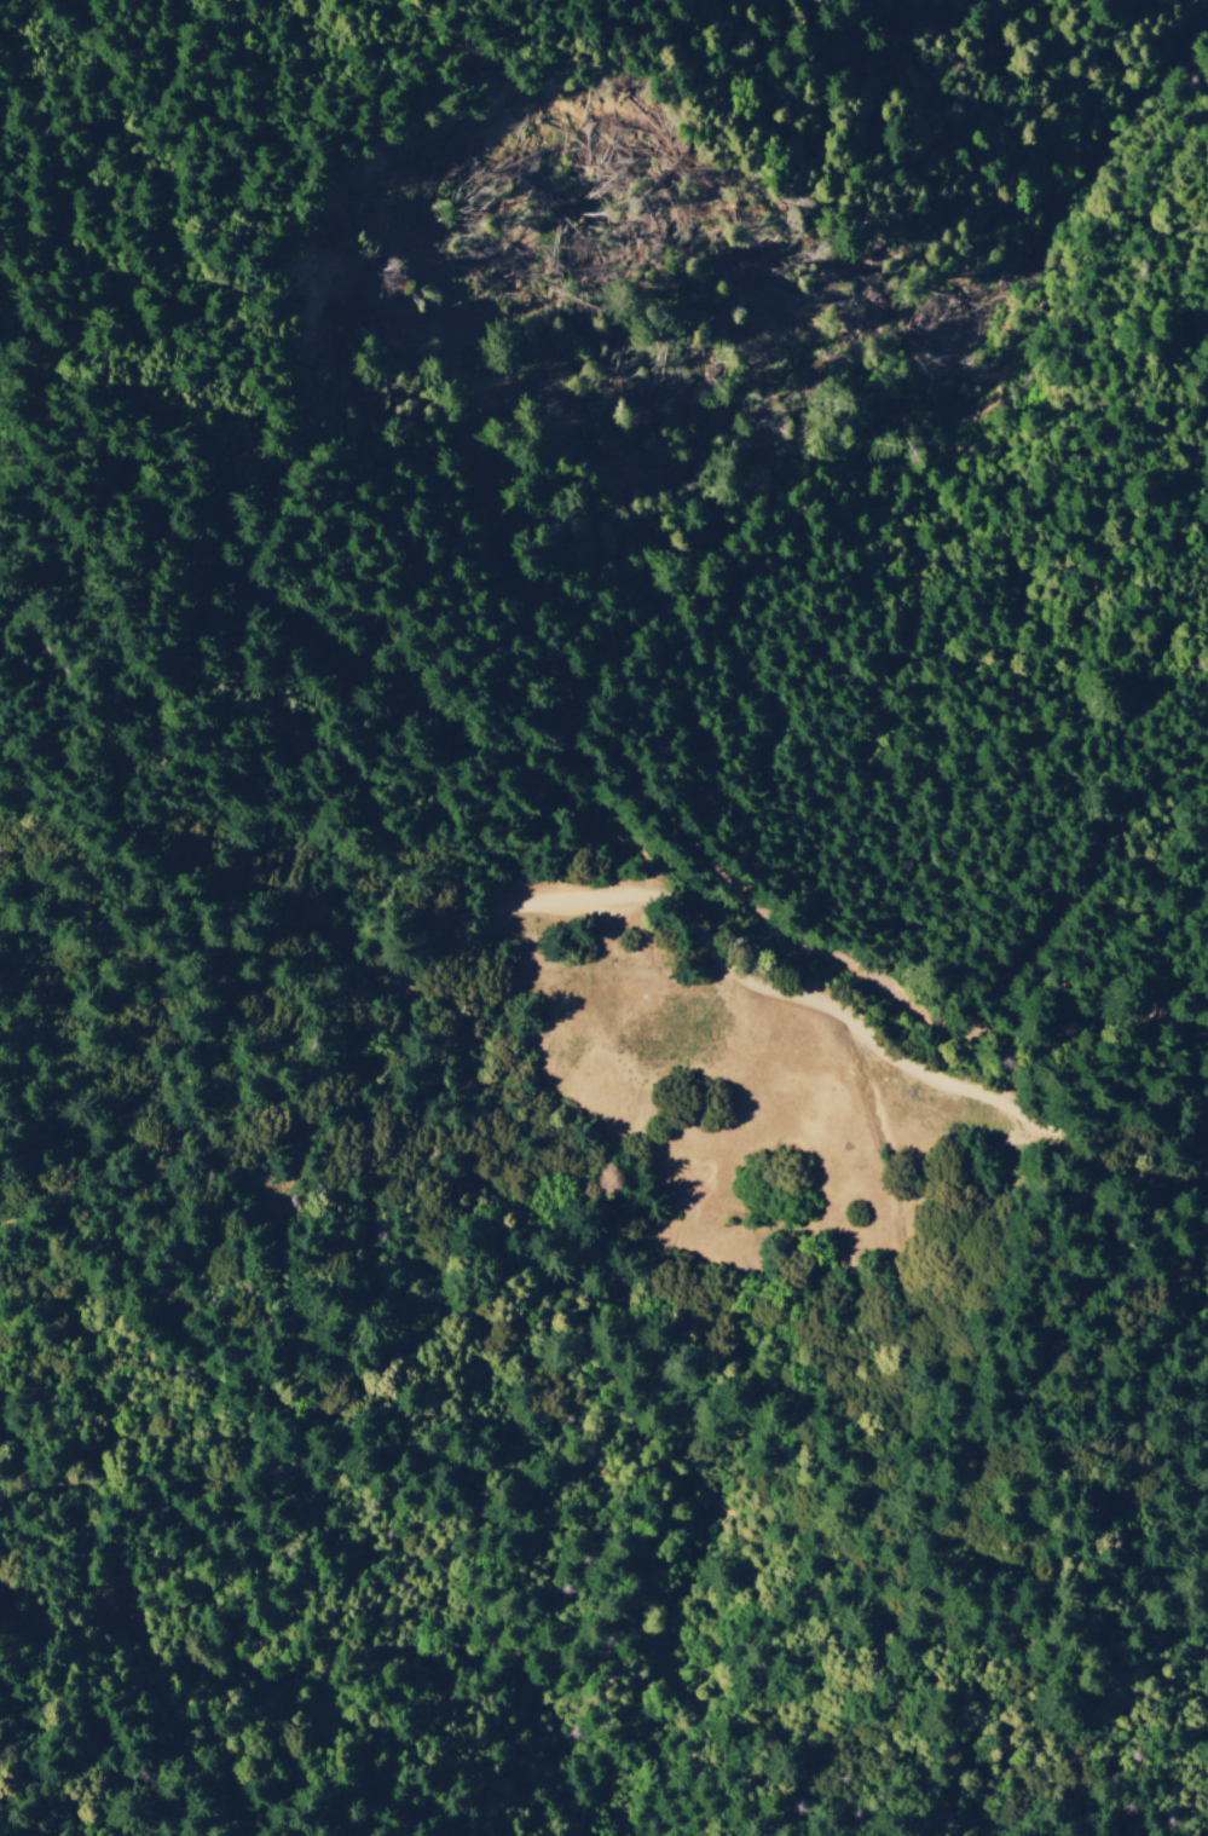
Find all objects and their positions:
road: (543, 711)

